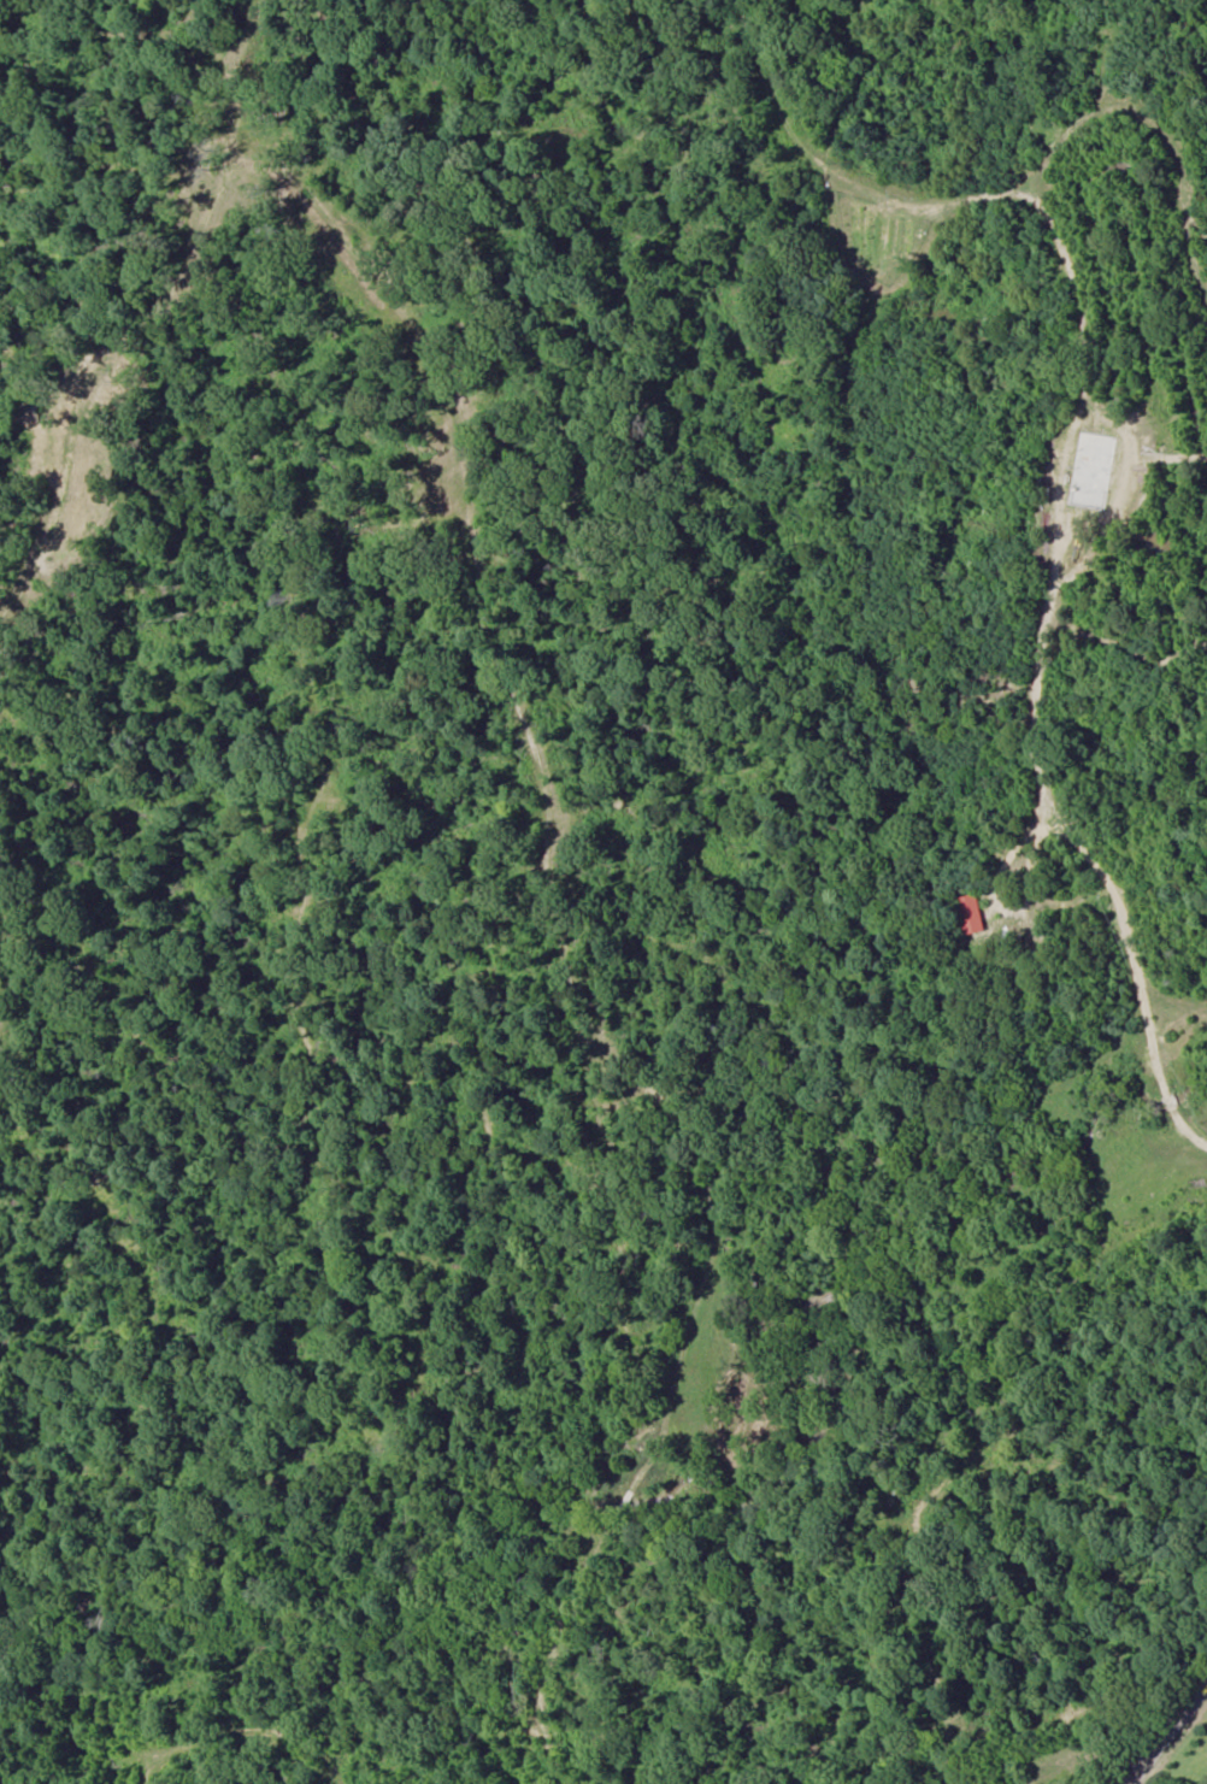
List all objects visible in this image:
road: (1130, 1703)

